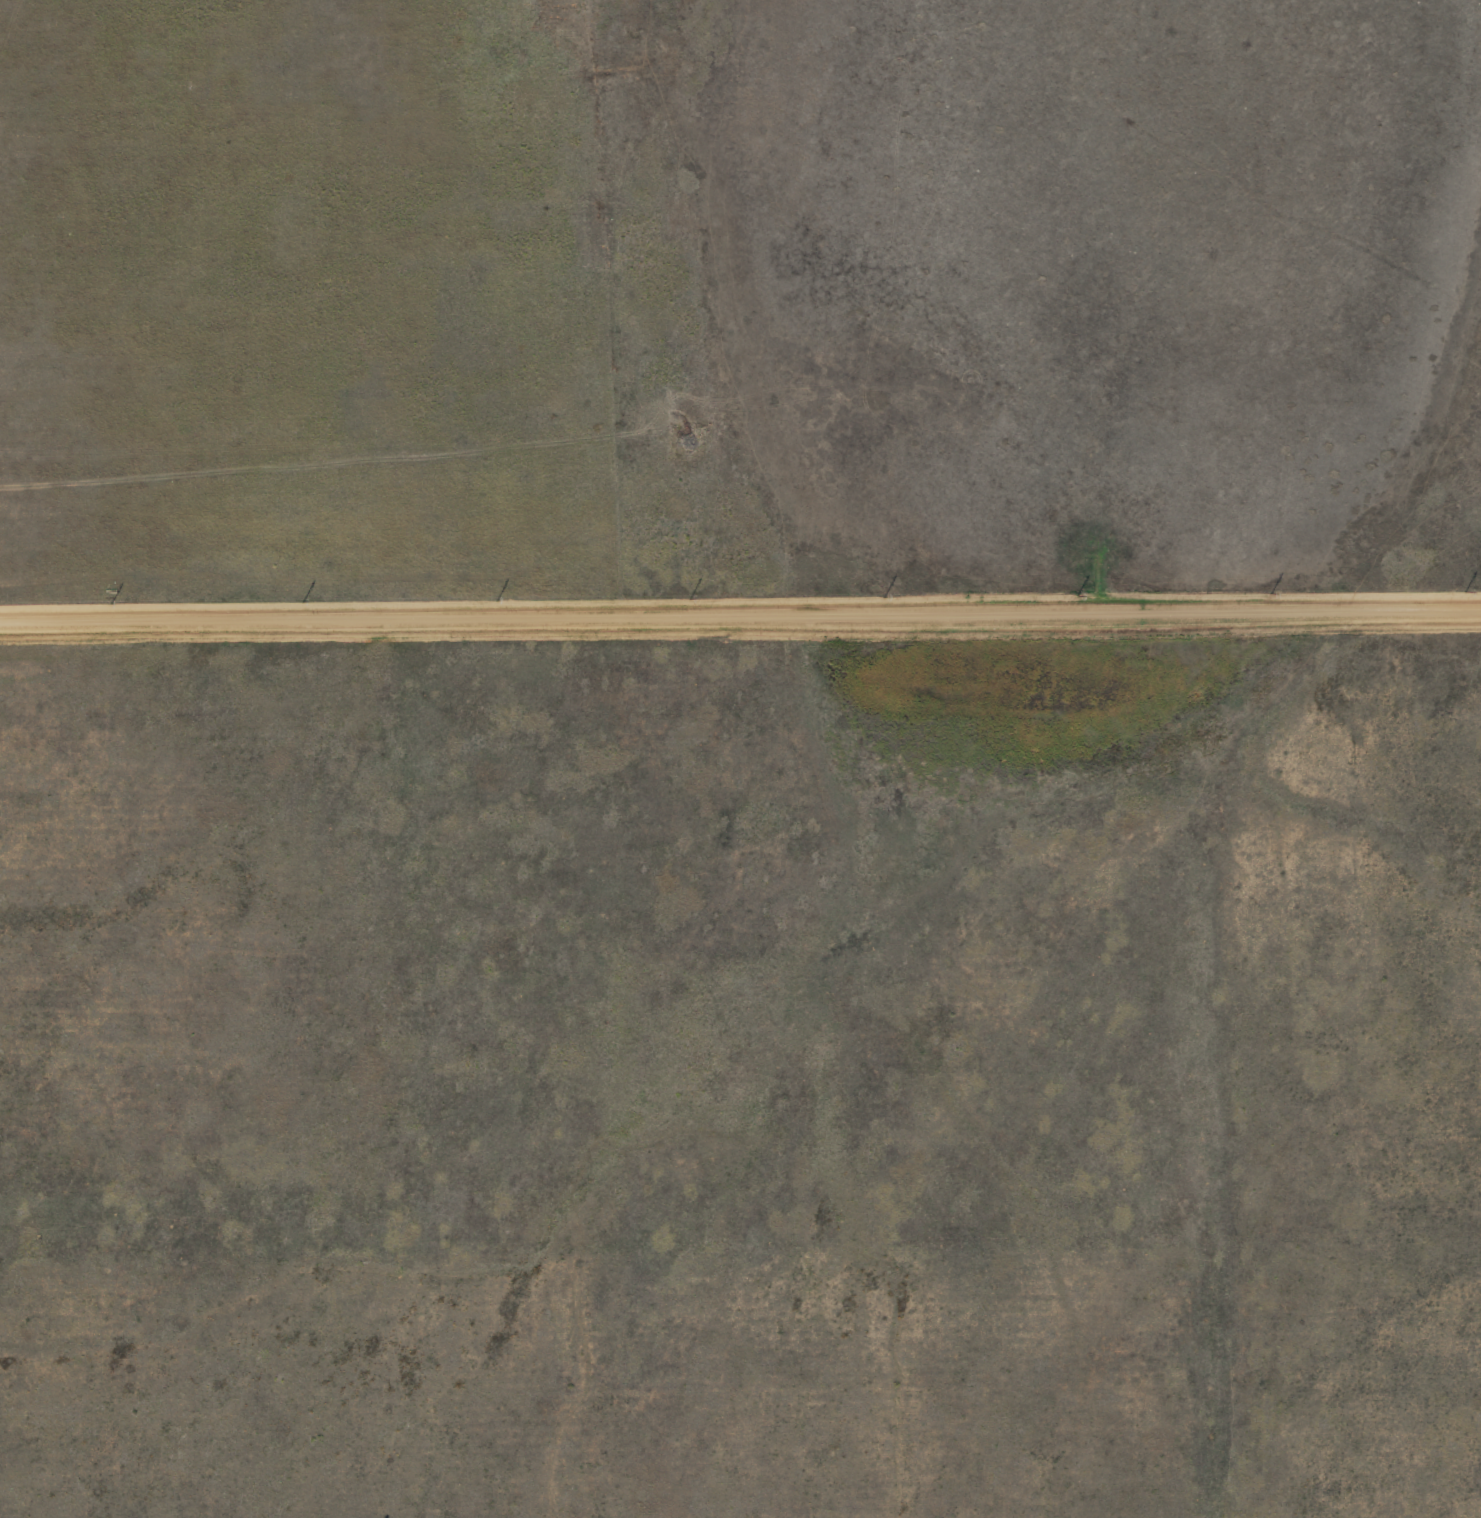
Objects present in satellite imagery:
road: (740, 650)

